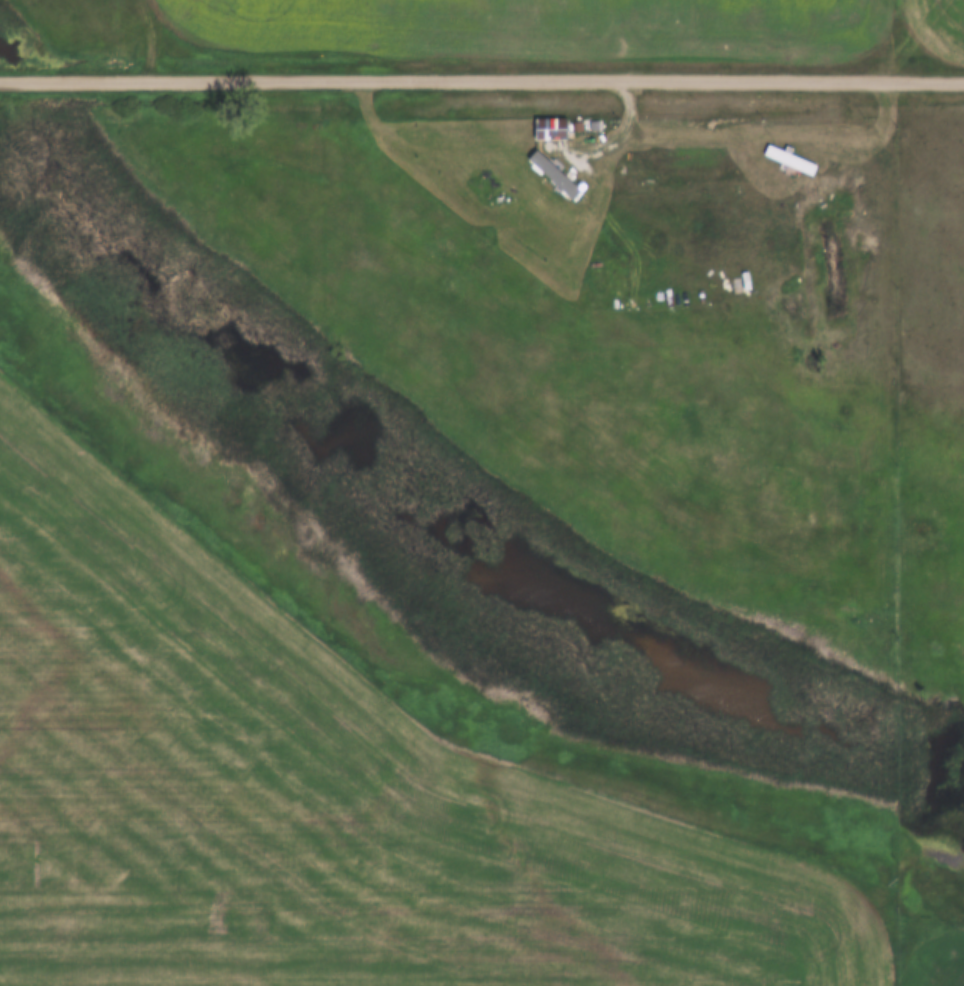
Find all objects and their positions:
road: (482, 78)

